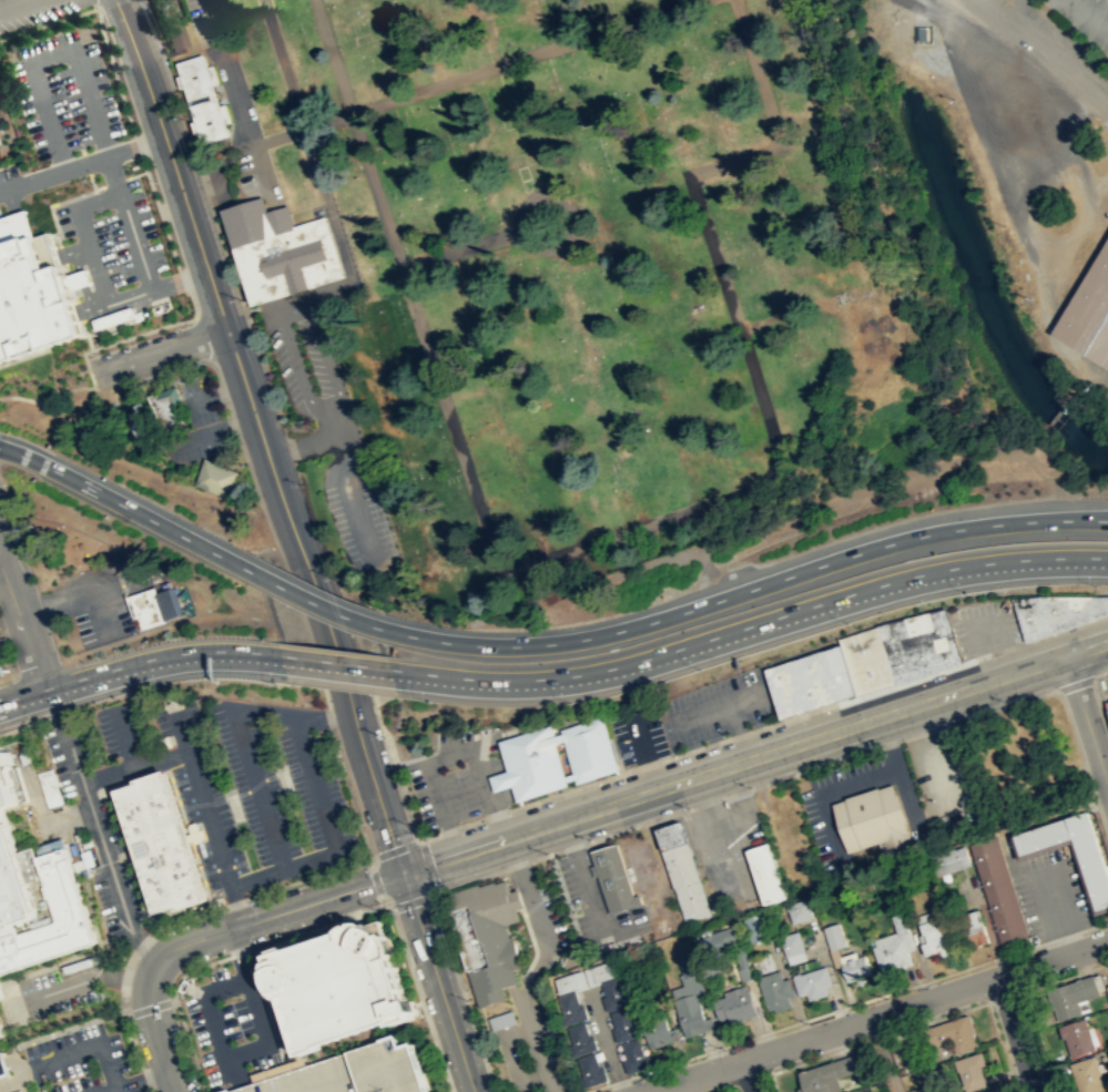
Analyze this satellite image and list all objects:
road: (94, 3)
road: (14, 4)
road: (1012, 8)
road: (1089, 12)
road: (216, 20)
road: (98, 21)
parking lot: (1081, 23)
building: (174, 41)
road: (69, 45)
road: (1046, 50)
road: (527, 57)
building: (203, 98)
road: (245, 119)
road: (1107, 129)
road: (136, 144)
building: (3, 150)
road: (315, 161)
road: (83, 162)
road: (87, 162)
road: (261, 169)
road: (138, 174)
road: (92, 181)
road: (115, 182)
road: (1, 187)
road: (98, 187)
road: (52, 203)
road: (159, 212)
road: (12, 215)
road: (84, 238)
building: (281, 251)
road: (61, 254)
park: (551, 277)
road: (181, 280)
road: (70, 282)
road: (407, 286)
road: (213, 290)
building: (30, 297)
road: (192, 302)
road: (78, 309)
building: (1088, 312)
road: (85, 334)
road: (200, 338)
road: (120, 339)
road: (743, 344)
road: (163, 353)
road: (295, 358)
road: (328, 364)
parking lot: (1104, 398)
road: (48, 400)
building: (167, 409)
building: (139, 426)
road: (308, 442)
road: (51, 468)
building: (216, 478)
road: (257, 499)
road: (354, 499)
parking lot: (3, 510)
road: (162, 525)
street lamp: (331, 579)
street lamp: (1095, 584)
road: (751, 588)
road: (77, 590)
street lamp: (966, 591)
road: (307, 600)
road: (315, 601)
building: (1098, 603)
building: (151, 604)
building: (1066, 608)
building: (1031, 614)
road: (22, 619)
street lamp: (846, 621)
road: (984, 621)
road: (751, 629)
road: (326, 634)
building: (917, 642)
road: (1086, 650)
road: (192, 652)
building: (864, 660)
parking lot: (1, 665)
road: (336, 666)
street lamp: (700, 667)
road: (336, 669)
building: (821, 676)
road: (74, 680)
road: (1074, 684)
building: (783, 688)
road: (1098, 693)
road: (22, 695)
road: (749, 697)
street lamp: (430, 701)
street lamp: (570, 701)
street lamp: (1008, 702)
parking lot: (716, 706)
building: (1107, 710)
road: (291, 712)
road: (700, 713)
road: (327, 717)
road: (1086, 723)
road: (739, 731)
parking lot: (639, 734)
road: (122, 735)
street lamp: (873, 743)
street lamp: (337, 745)
building: (587, 748)
road: (646, 753)
road: (929, 754)
road: (449, 755)
building: (530, 761)
road: (1082, 763)
road: (733, 764)
road: (133, 765)
parking lot: (458, 777)
parking lot: (938, 778)
road: (373, 780)
road: (314, 782)
street lamp: (748, 785)
road: (256, 786)
building: (49, 788)
road: (745, 788)
road: (200, 794)
road: (348, 795)
street lamp: (688, 807)
building: (872, 820)
street lamp: (364, 823)
road: (440, 833)
street lamp: (589, 839)
building: (155, 840)
road: (103, 847)
road: (395, 848)
road: (308, 858)
building: (949, 860)
road: (428, 866)
building: (1091, 866)
building: (684, 870)
traffic signals: (403, 872)
building: (764, 872)
road: (256, 875)
road: (375, 877)
building: (614, 877)
building: (37, 889)
building: (997, 889)
parking lot: (1048, 890)
street lamp: (255, 899)
road: (414, 899)
road: (236, 904)
building: (799, 910)
road: (278, 912)
road: (1060, 914)
street lamp: (334, 918)
building: (898, 922)
building: (969, 927)
building: (755, 928)
building: (931, 933)
building: (832, 936)
building: (486, 937)
building: (707, 941)
road: (272, 942)
building: (791, 943)
building: (890, 951)
street lamp: (207, 959)
street lamp: (1002, 959)
building: (688, 962)
building: (762, 963)
building: (853, 966)
building: (603, 970)
road: (1067, 976)
road: (85, 979)
road: (437, 981)
building: (568, 982)
building: (812, 982)
building: (1107, 984)
building: (342, 986)
building: (1107, 986)
parking lot: (55, 991)
road: (417, 991)
building: (773, 991)
road: (464, 992)
building: (614, 993)
flagpole: (237, 994)
road: (1006, 994)
building: (1071, 996)
road: (281, 1000)
road: (150, 1006)
road: (844, 1006)
building: (571, 1007)
building: (736, 1007)
road: (120, 1011)
road: (124, 1012)
road: (109, 1013)
building: (693, 1014)
road: (876, 1016)
building: (3, 1018)
road: (149, 1024)
building: (624, 1024)
parking lot: (234, 1025)
road: (59, 1030)
building: (660, 1032)
building: (951, 1034)
road: (1018, 1034)
road: (878, 1037)
building: (1076, 1037)
building: (581, 1038)
road: (604, 1040)
road: (1041, 1041)
road: (133, 1042)
road: (190, 1045)
road: (1002, 1047)
road: (91, 1048)
road: (250, 1048)
road: (884, 1054)
building: (636, 1055)
parking lot: (80, 1062)
building: (846, 1064)
building: (6, 1067)
building: (591, 1070)
building: (970, 1070)
building: (354, 1072)
parking garage: (354, 1072)
road: (750, 1075)
building: (1088, 1075)
road: (751, 1078)
building: (815, 1078)
road: (145, 1079)
street lamp: (1050, 1081)
road: (134, 1082)
road: (772, 1082)
road: (722, 1089)
road: (733, 1089)
road: (118, 1090)
road: (149, 1090)
building: (990, 1091)

